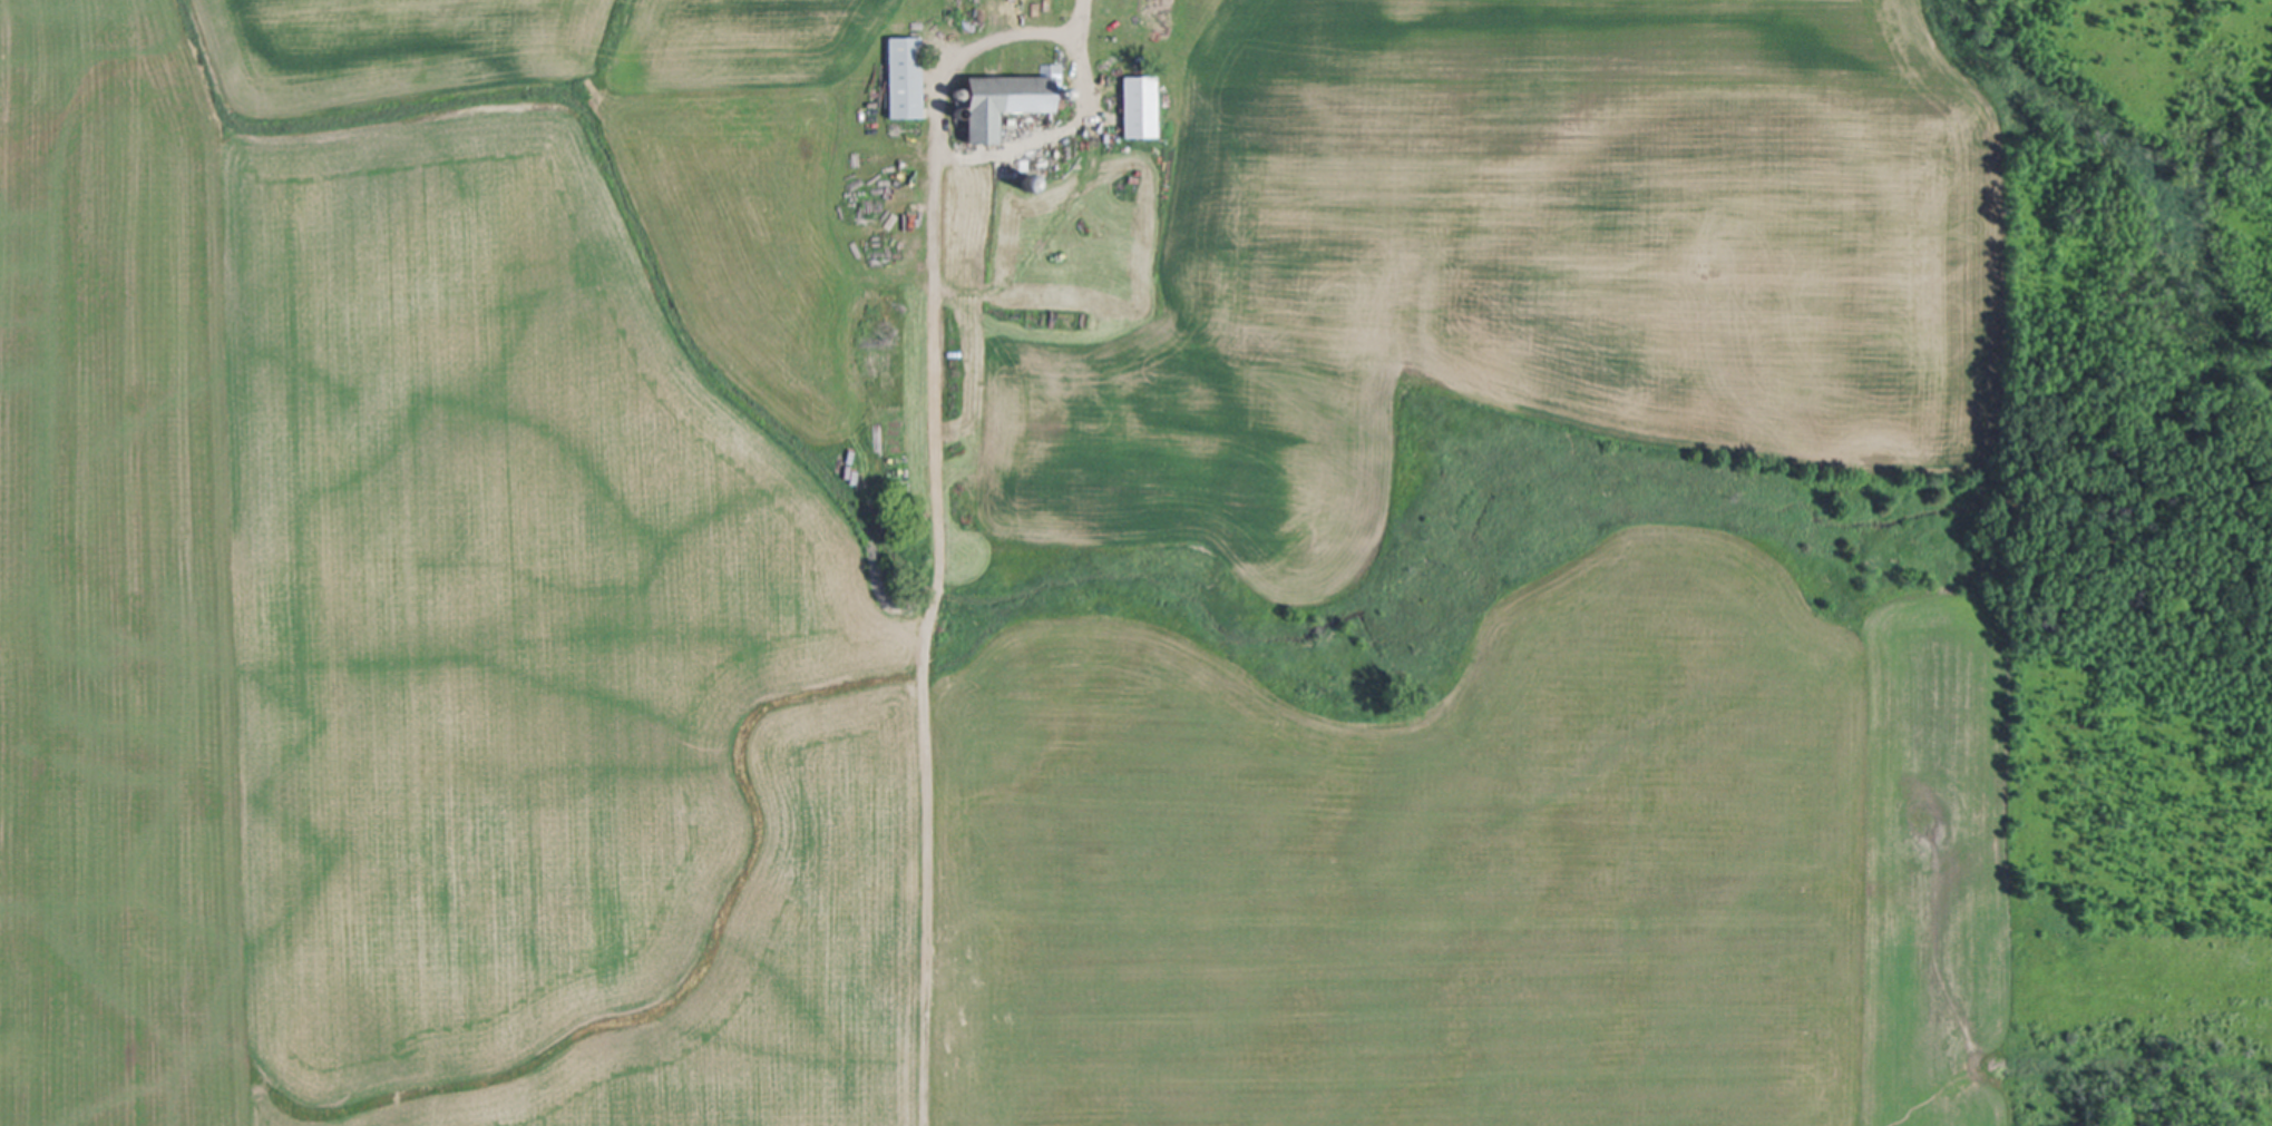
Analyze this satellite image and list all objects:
building: (906, 78)
building: (1011, 100)
building: (1142, 108)
road: (934, 227)
road: (926, 843)

